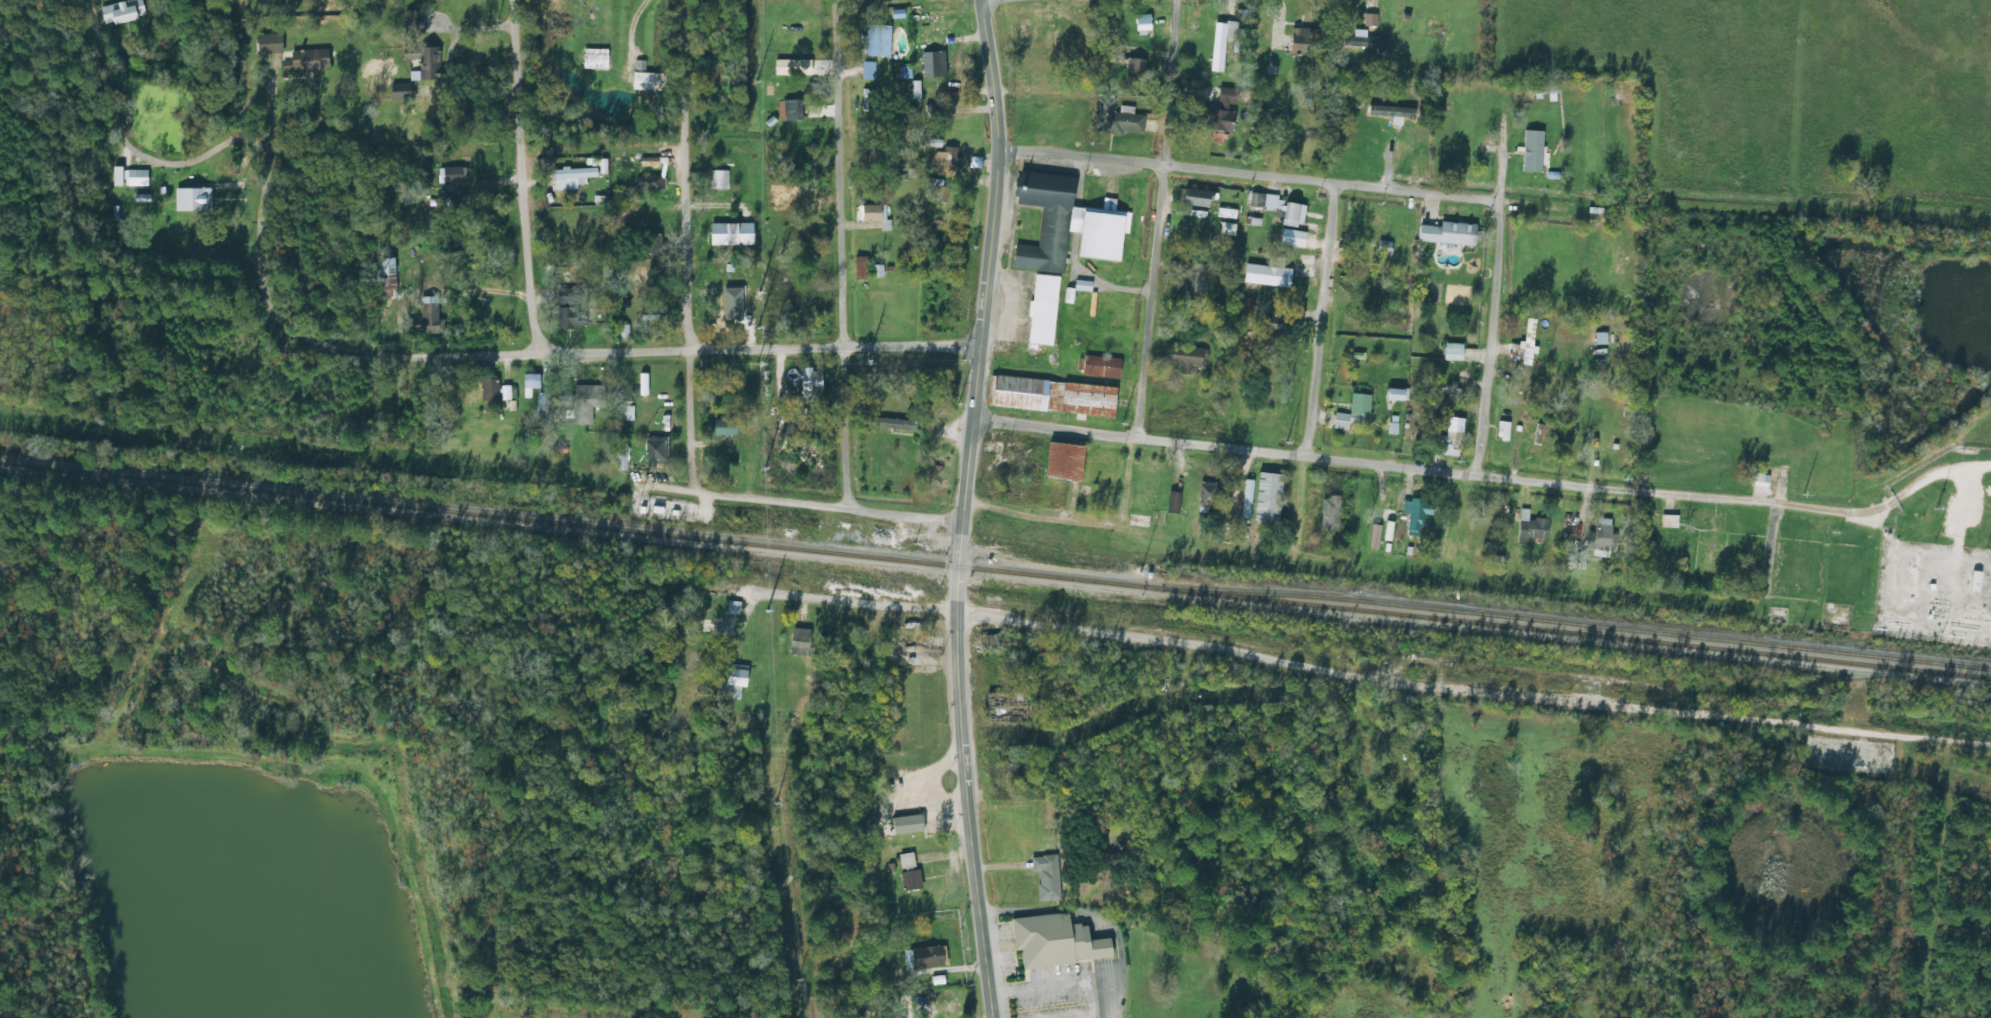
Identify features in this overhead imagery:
building: (123, 11)
building: (414, 22)
building: (877, 40)
building: (1305, 41)
building: (1208, 42)
building: (1365, 42)
building: (270, 43)
building: (596, 58)
building: (310, 59)
building: (426, 60)
building: (934, 64)
building: (380, 66)
building: (1136, 69)
building: (716, 77)
building: (654, 81)
building: (1040, 86)
building: (1545, 87)
building: (402, 91)
building: (929, 92)
building: (794, 110)
building: (1222, 111)
building: (1116, 118)
building: (790, 150)
building: (951, 156)
road: (1251, 173)
building: (131, 177)
road: (517, 177)
building: (571, 177)
building: (719, 179)
building: (649, 183)
building: (936, 189)
building: (194, 198)
building: (1200, 198)
building: (1279, 207)
building: (624, 212)
building: (873, 213)
road: (1155, 217)
building: (1047, 219)
building: (1228, 228)
building: (1449, 233)
building: (733, 234)
road: (684, 245)
building: (650, 247)
road: (838, 253)
building: (388, 273)
building: (1268, 275)
building: (1194, 277)
building: (569, 296)
building: (1246, 307)
building: (1043, 309)
building: (653, 315)
building: (729, 315)
building: (431, 316)
building: (569, 317)
road: (1320, 318)
building: (1535, 335)
building: (1600, 343)
road: (1484, 344)
building: (1454, 351)
road: (407, 357)
building: (1186, 357)
building: (1102, 366)
building: (812, 379)
building: (532, 381)
building: (490, 388)
building: (1398, 394)
building: (1053, 396)
building: (585, 402)
building: (1354, 413)
building: (893, 423)
building: (726, 427)
building: (1453, 433)
building: (1596, 438)
building: (656, 450)
building: (1064, 471)
road: (1486, 479)
building: (1208, 496)
building: (1269, 497)
building: (1247, 500)
road: (827, 504)
road: (962, 508)
building: (1330, 513)
building: (1417, 513)
building: (1669, 521)
building: (1532, 527)
building: (1711, 555)
road: (2, 569)
railway: (995, 570)
building: (1977, 581)
road: (852, 602)
railway: (1570, 622)
building: (994, 643)
building: (736, 680)
road: (1471, 691)
building: (1008, 707)
building: (1013, 771)
building: (1391, 789)
building: (909, 824)
building: (909, 871)
building: (1047, 877)
building: (1058, 941)
building: (926, 957)
road: (954, 1008)

